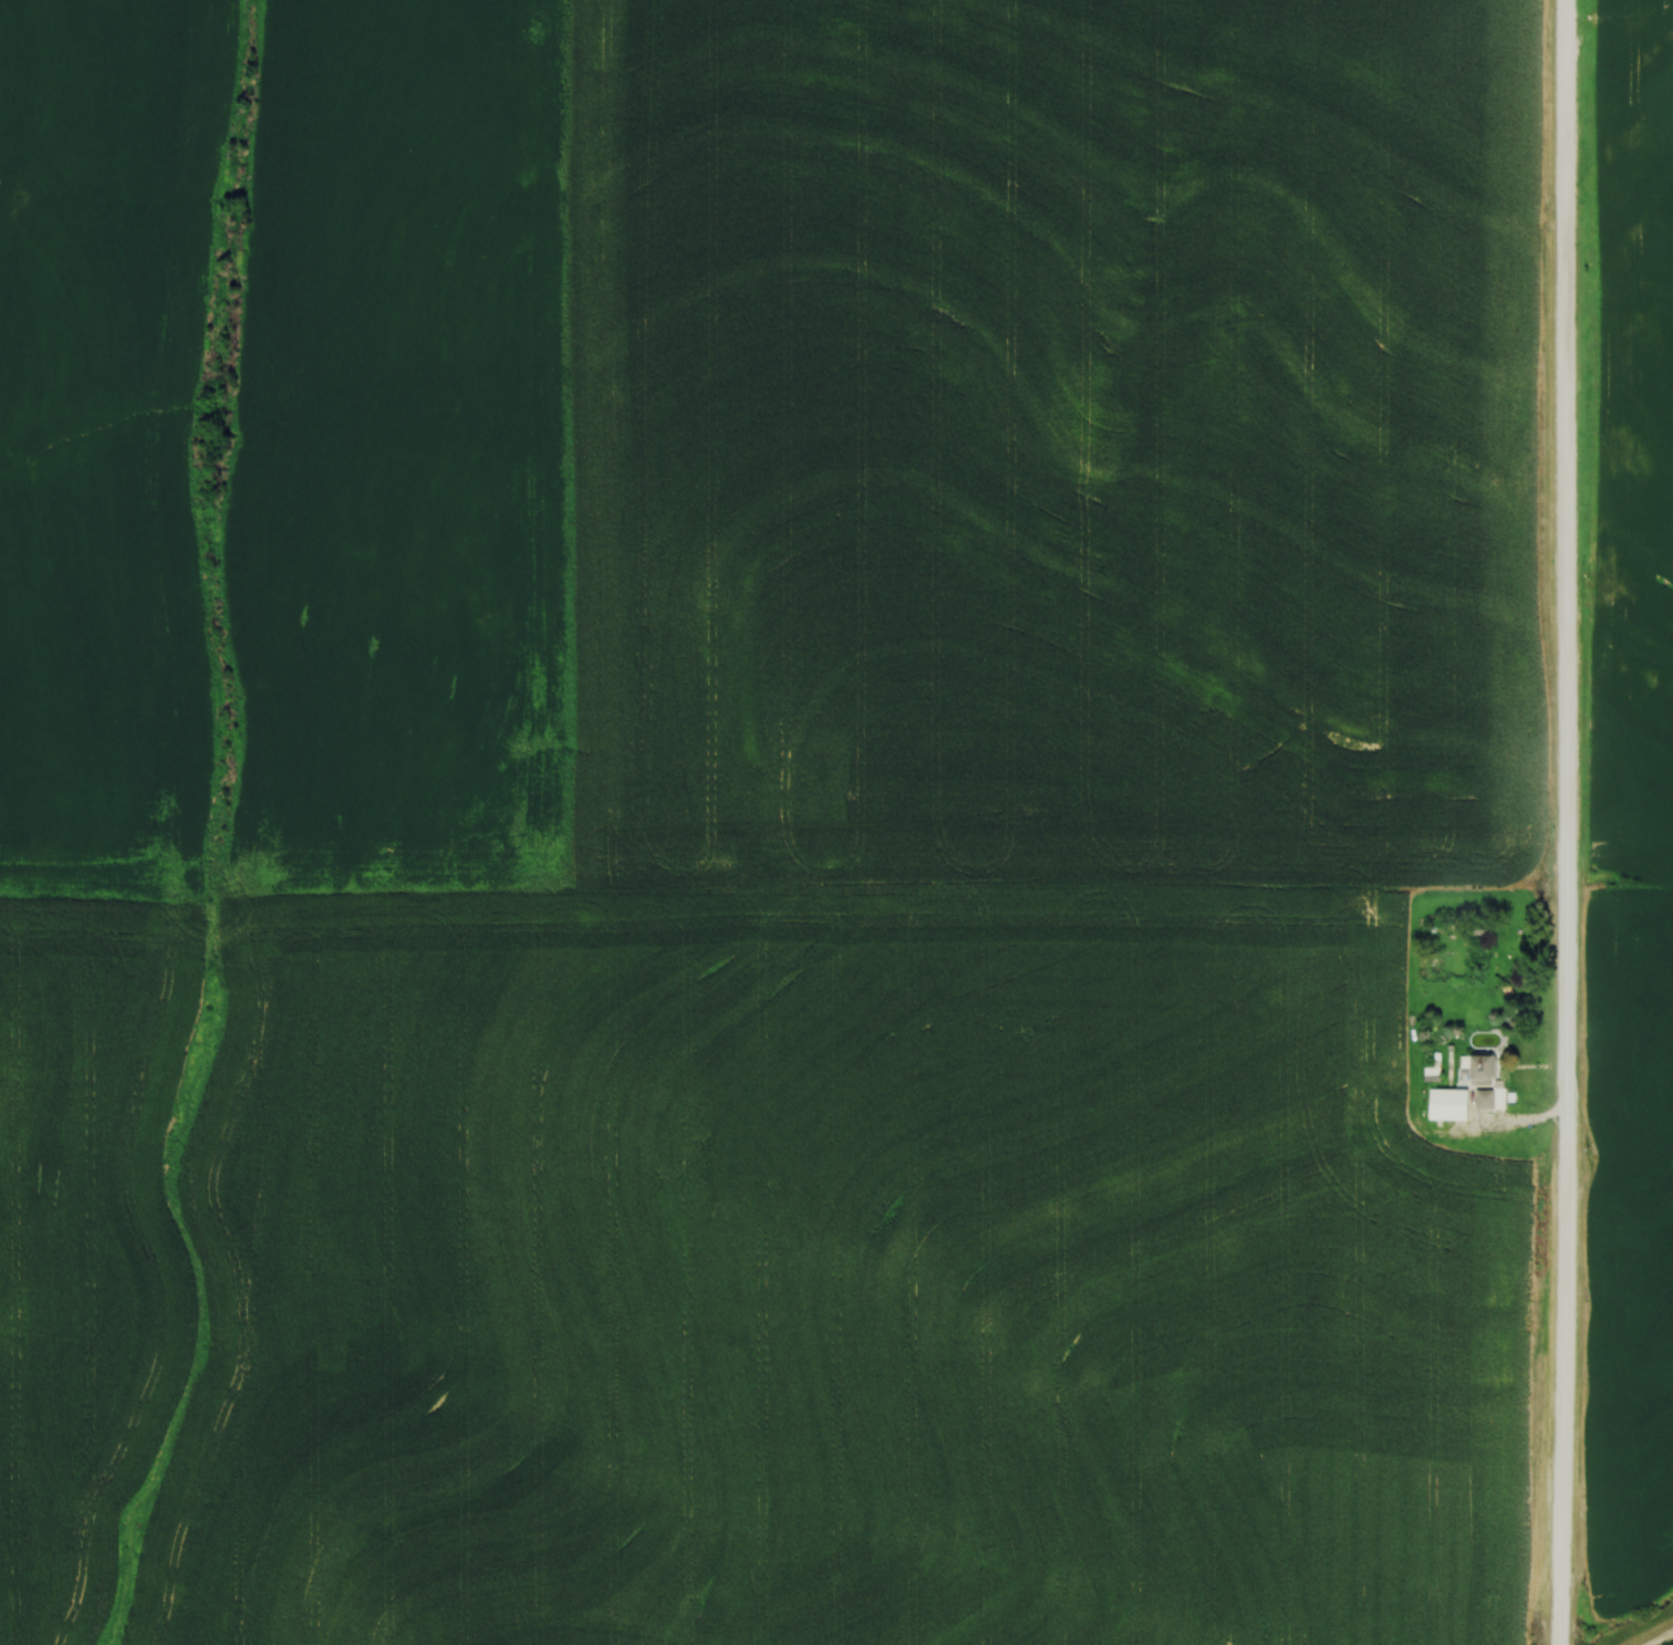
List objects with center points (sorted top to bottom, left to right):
road: (1566, 822)
building: (1479, 938)
building: (1401, 1063)
building: (1489, 1069)
building: (1400, 1085)
building: (1490, 1100)
building: (1453, 1105)

